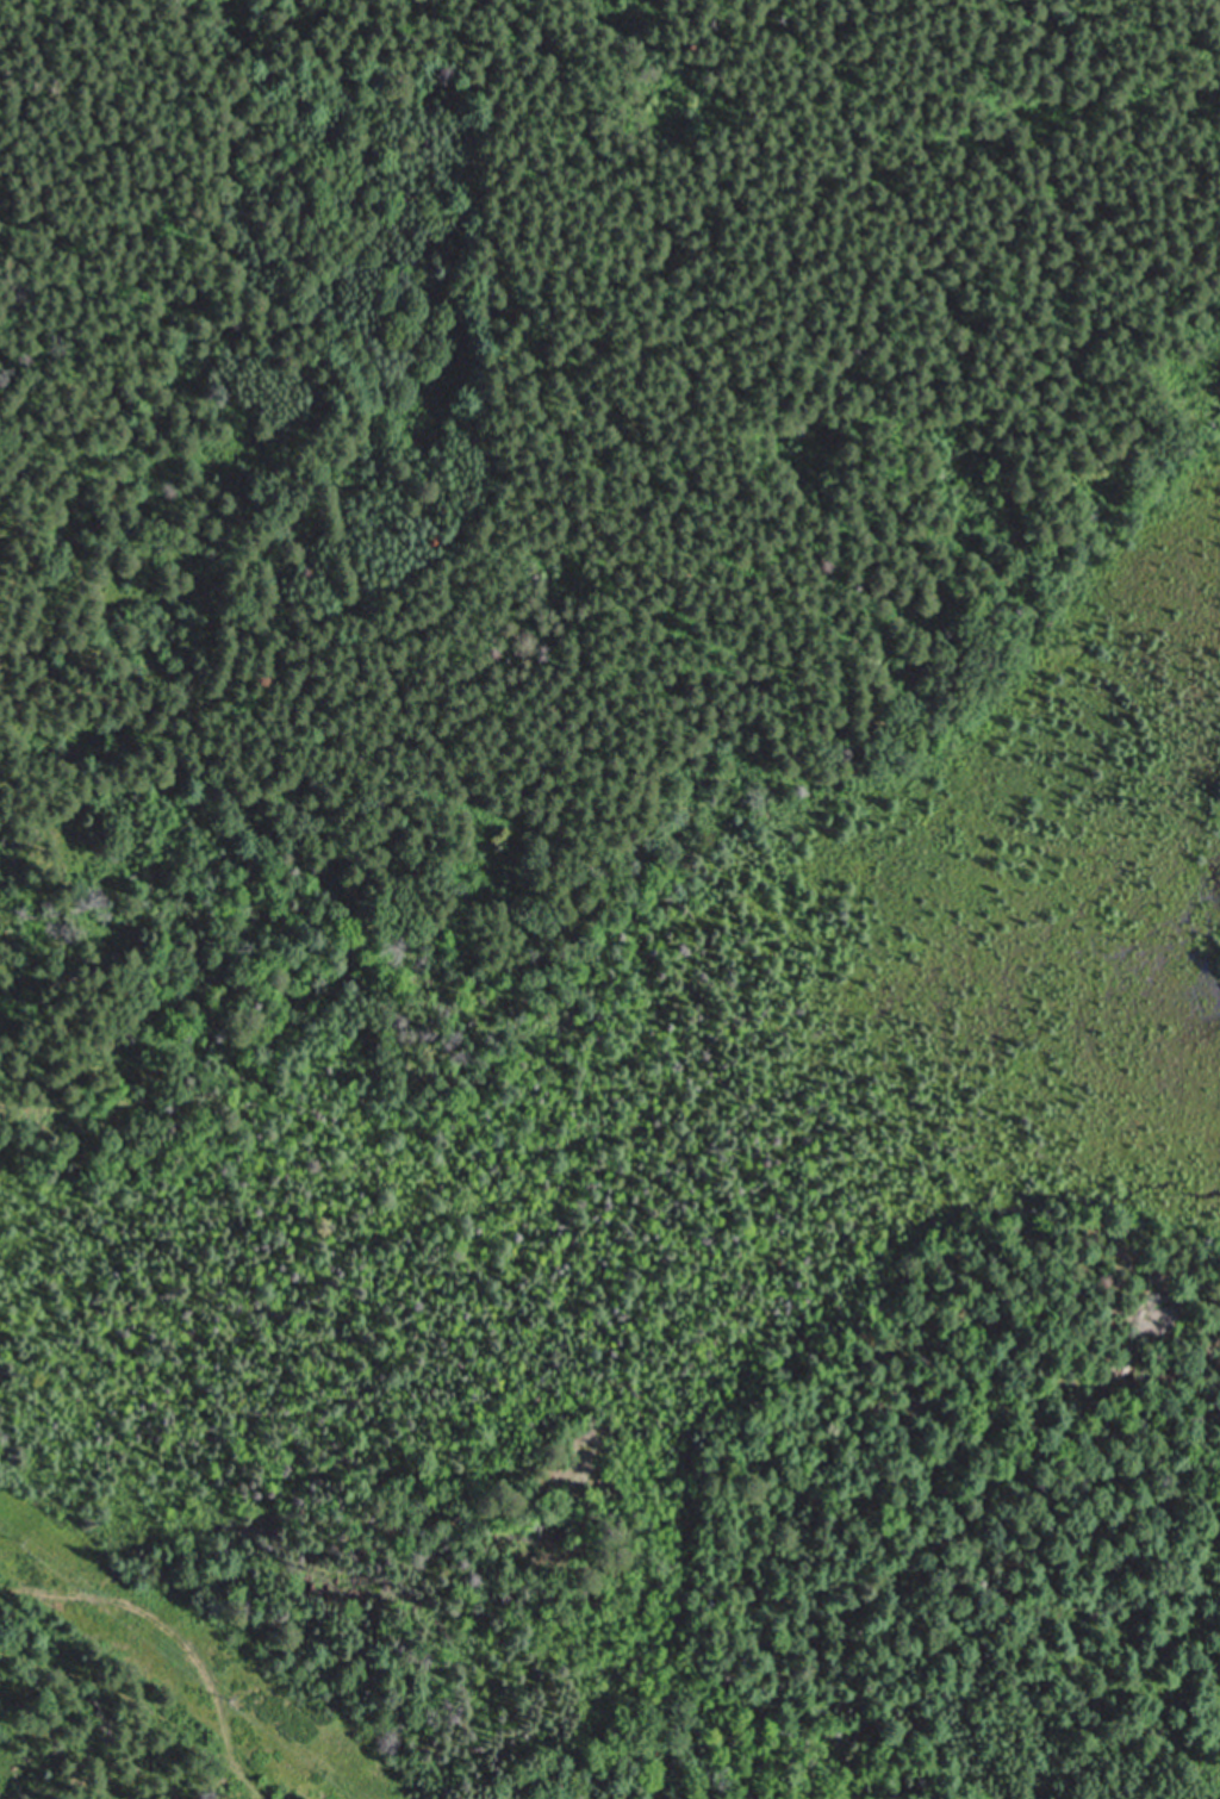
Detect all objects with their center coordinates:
power tower: (23, 1542)
road: (194, 1655)
power tower: (237, 1697)

